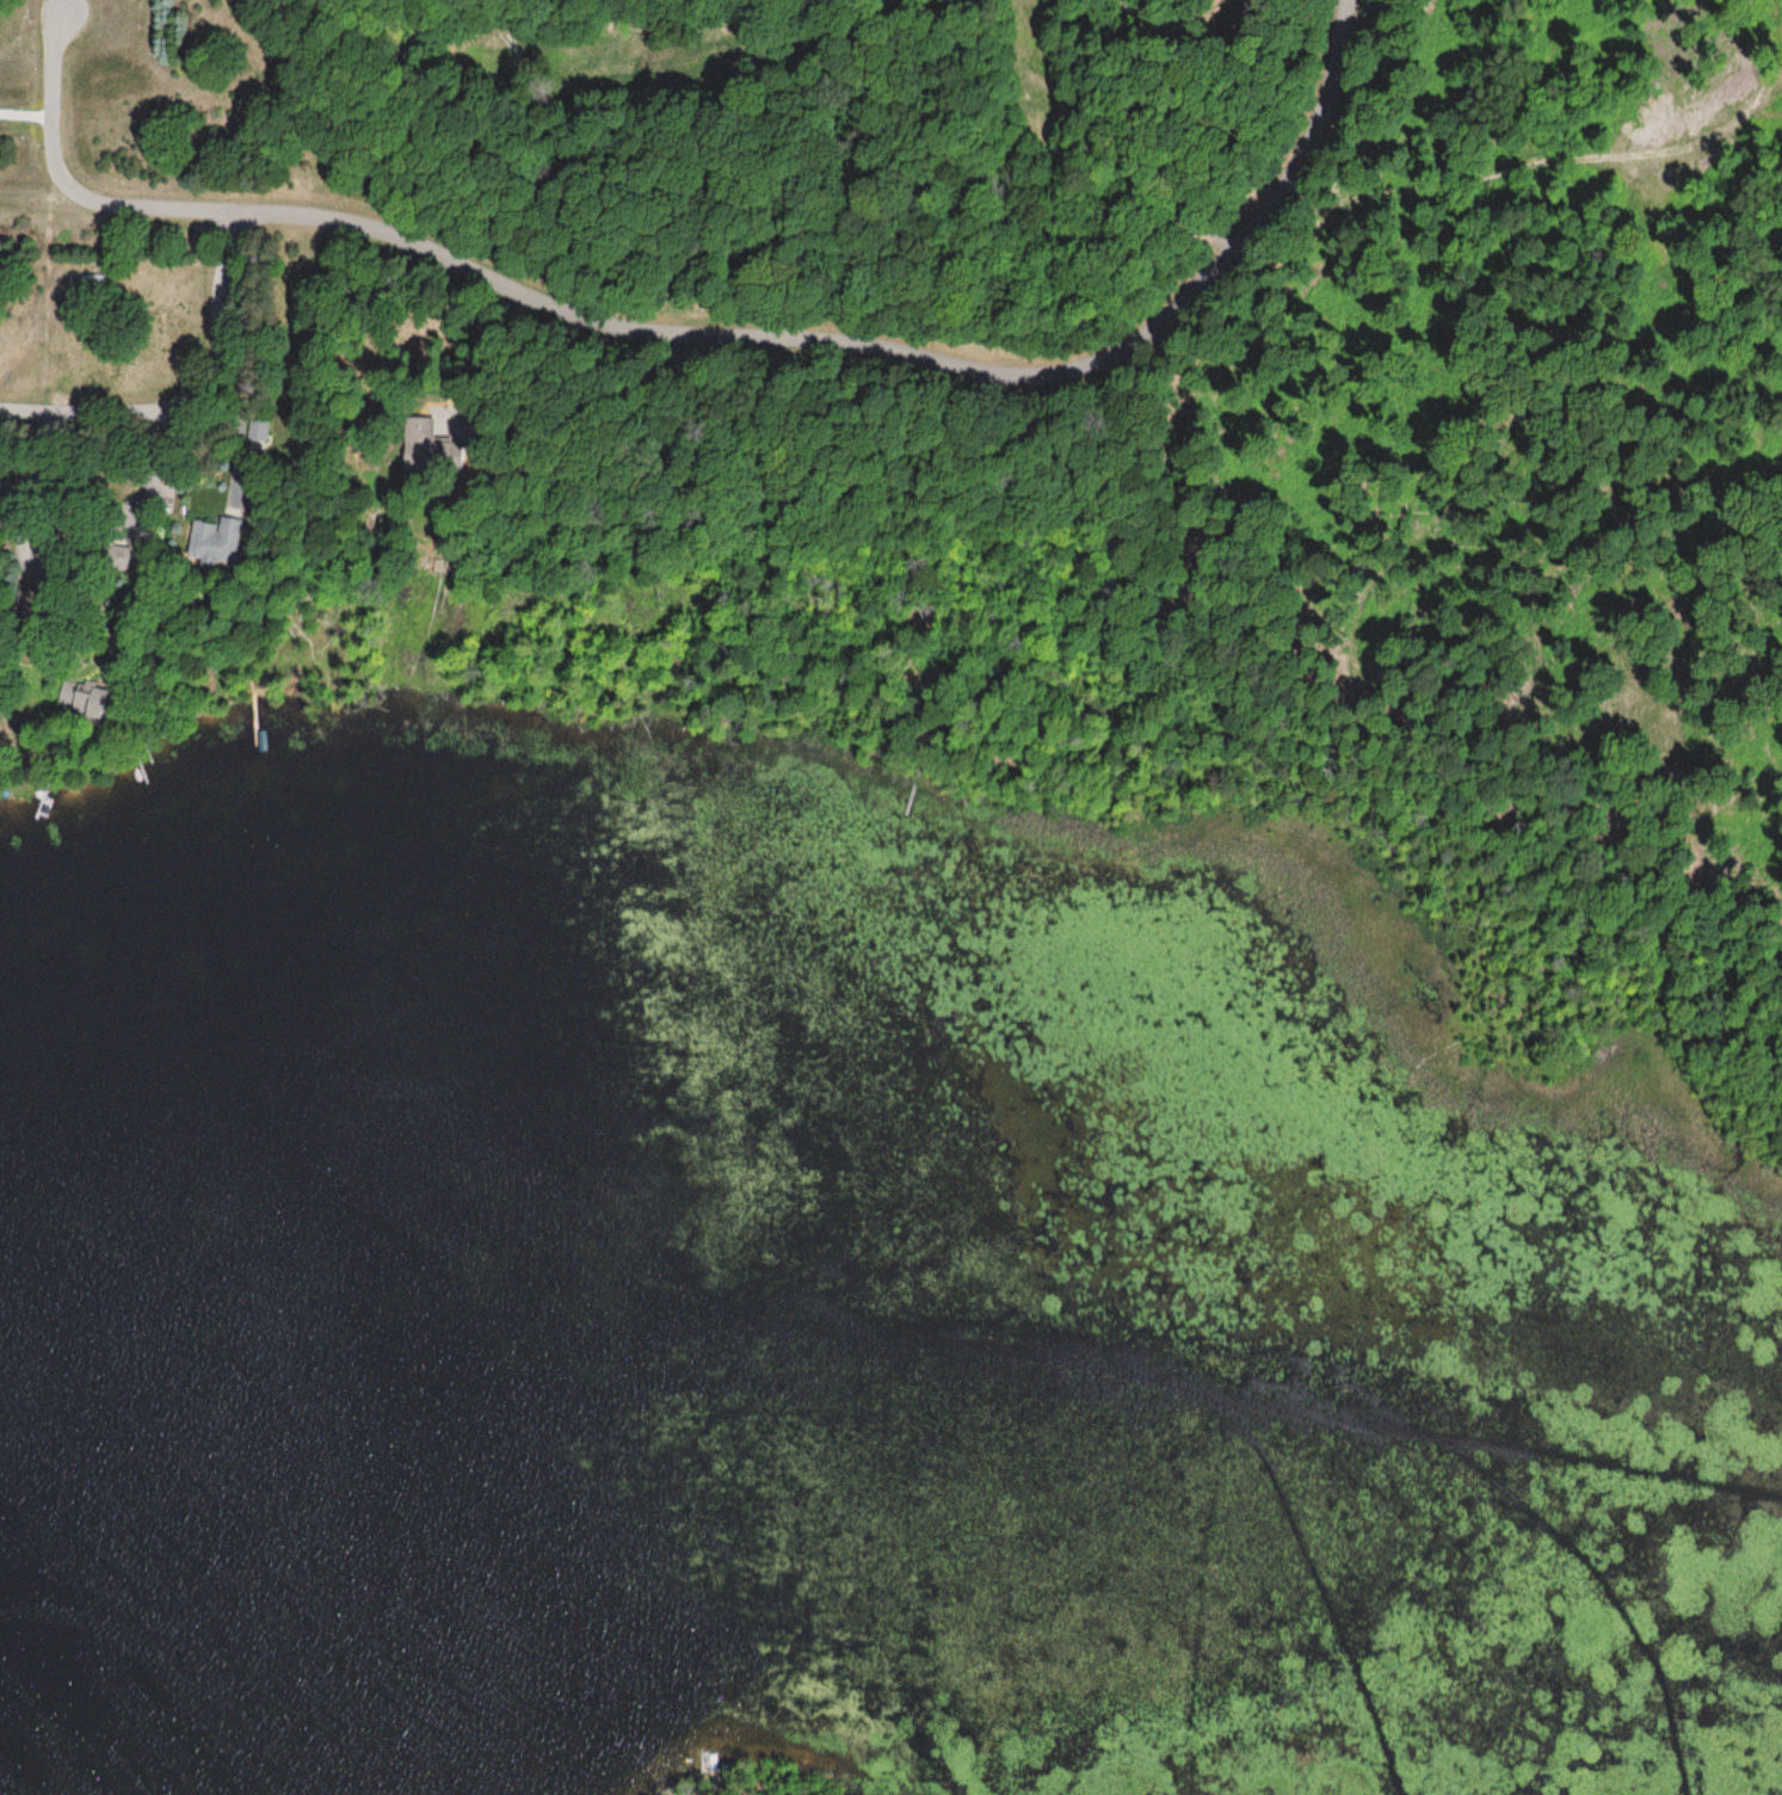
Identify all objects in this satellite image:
road: (721, 332)
building: (415, 440)
building: (209, 542)
building: (107, 555)
building: (81, 704)

